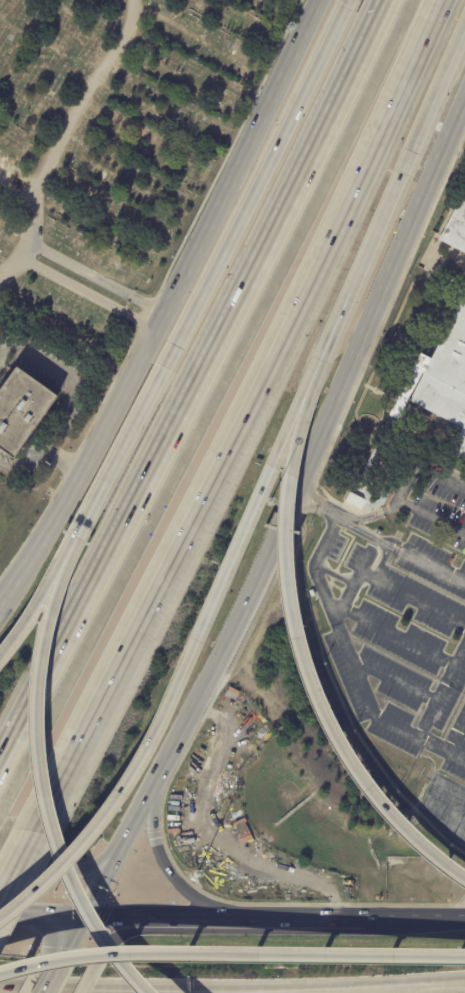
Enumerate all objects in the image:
road: (89, 96)
road: (432, 100)
parking lot: (463, 148)
road: (262, 173)
park: (99, 198)
road: (37, 213)
building: (454, 224)
building: (66, 228)
road: (254, 263)
road: (308, 273)
road: (98, 276)
road: (352, 284)
road: (86, 289)
road: (168, 305)
road: (66, 373)
building: (446, 379)
building: (22, 410)
road: (121, 447)
road: (60, 457)
road: (22, 467)
road: (299, 474)
road: (402, 492)
road: (345, 515)
road: (354, 530)
road: (313, 564)
road: (426, 565)
road: (332, 575)
road: (400, 592)
building: (312, 594)
road: (346, 595)
road: (36, 603)
road: (2, 605)
parking lot: (403, 627)
road: (397, 636)
road: (59, 641)
road: (301, 666)
road: (179, 673)
road: (393, 681)
road: (99, 694)
road: (395, 728)
road: (455, 732)
road: (441, 748)
building: (227, 768)
road: (41, 783)
road: (430, 804)
road: (215, 834)
road: (163, 863)
road: (13, 868)
road: (62, 871)
road: (98, 881)
road: (452, 907)
road: (39, 914)
traffic signals: (79, 918)
road: (272, 919)
road: (127, 932)
road: (66, 936)
road: (231, 954)
road: (44, 974)
road: (88, 974)
road: (356, 981)

